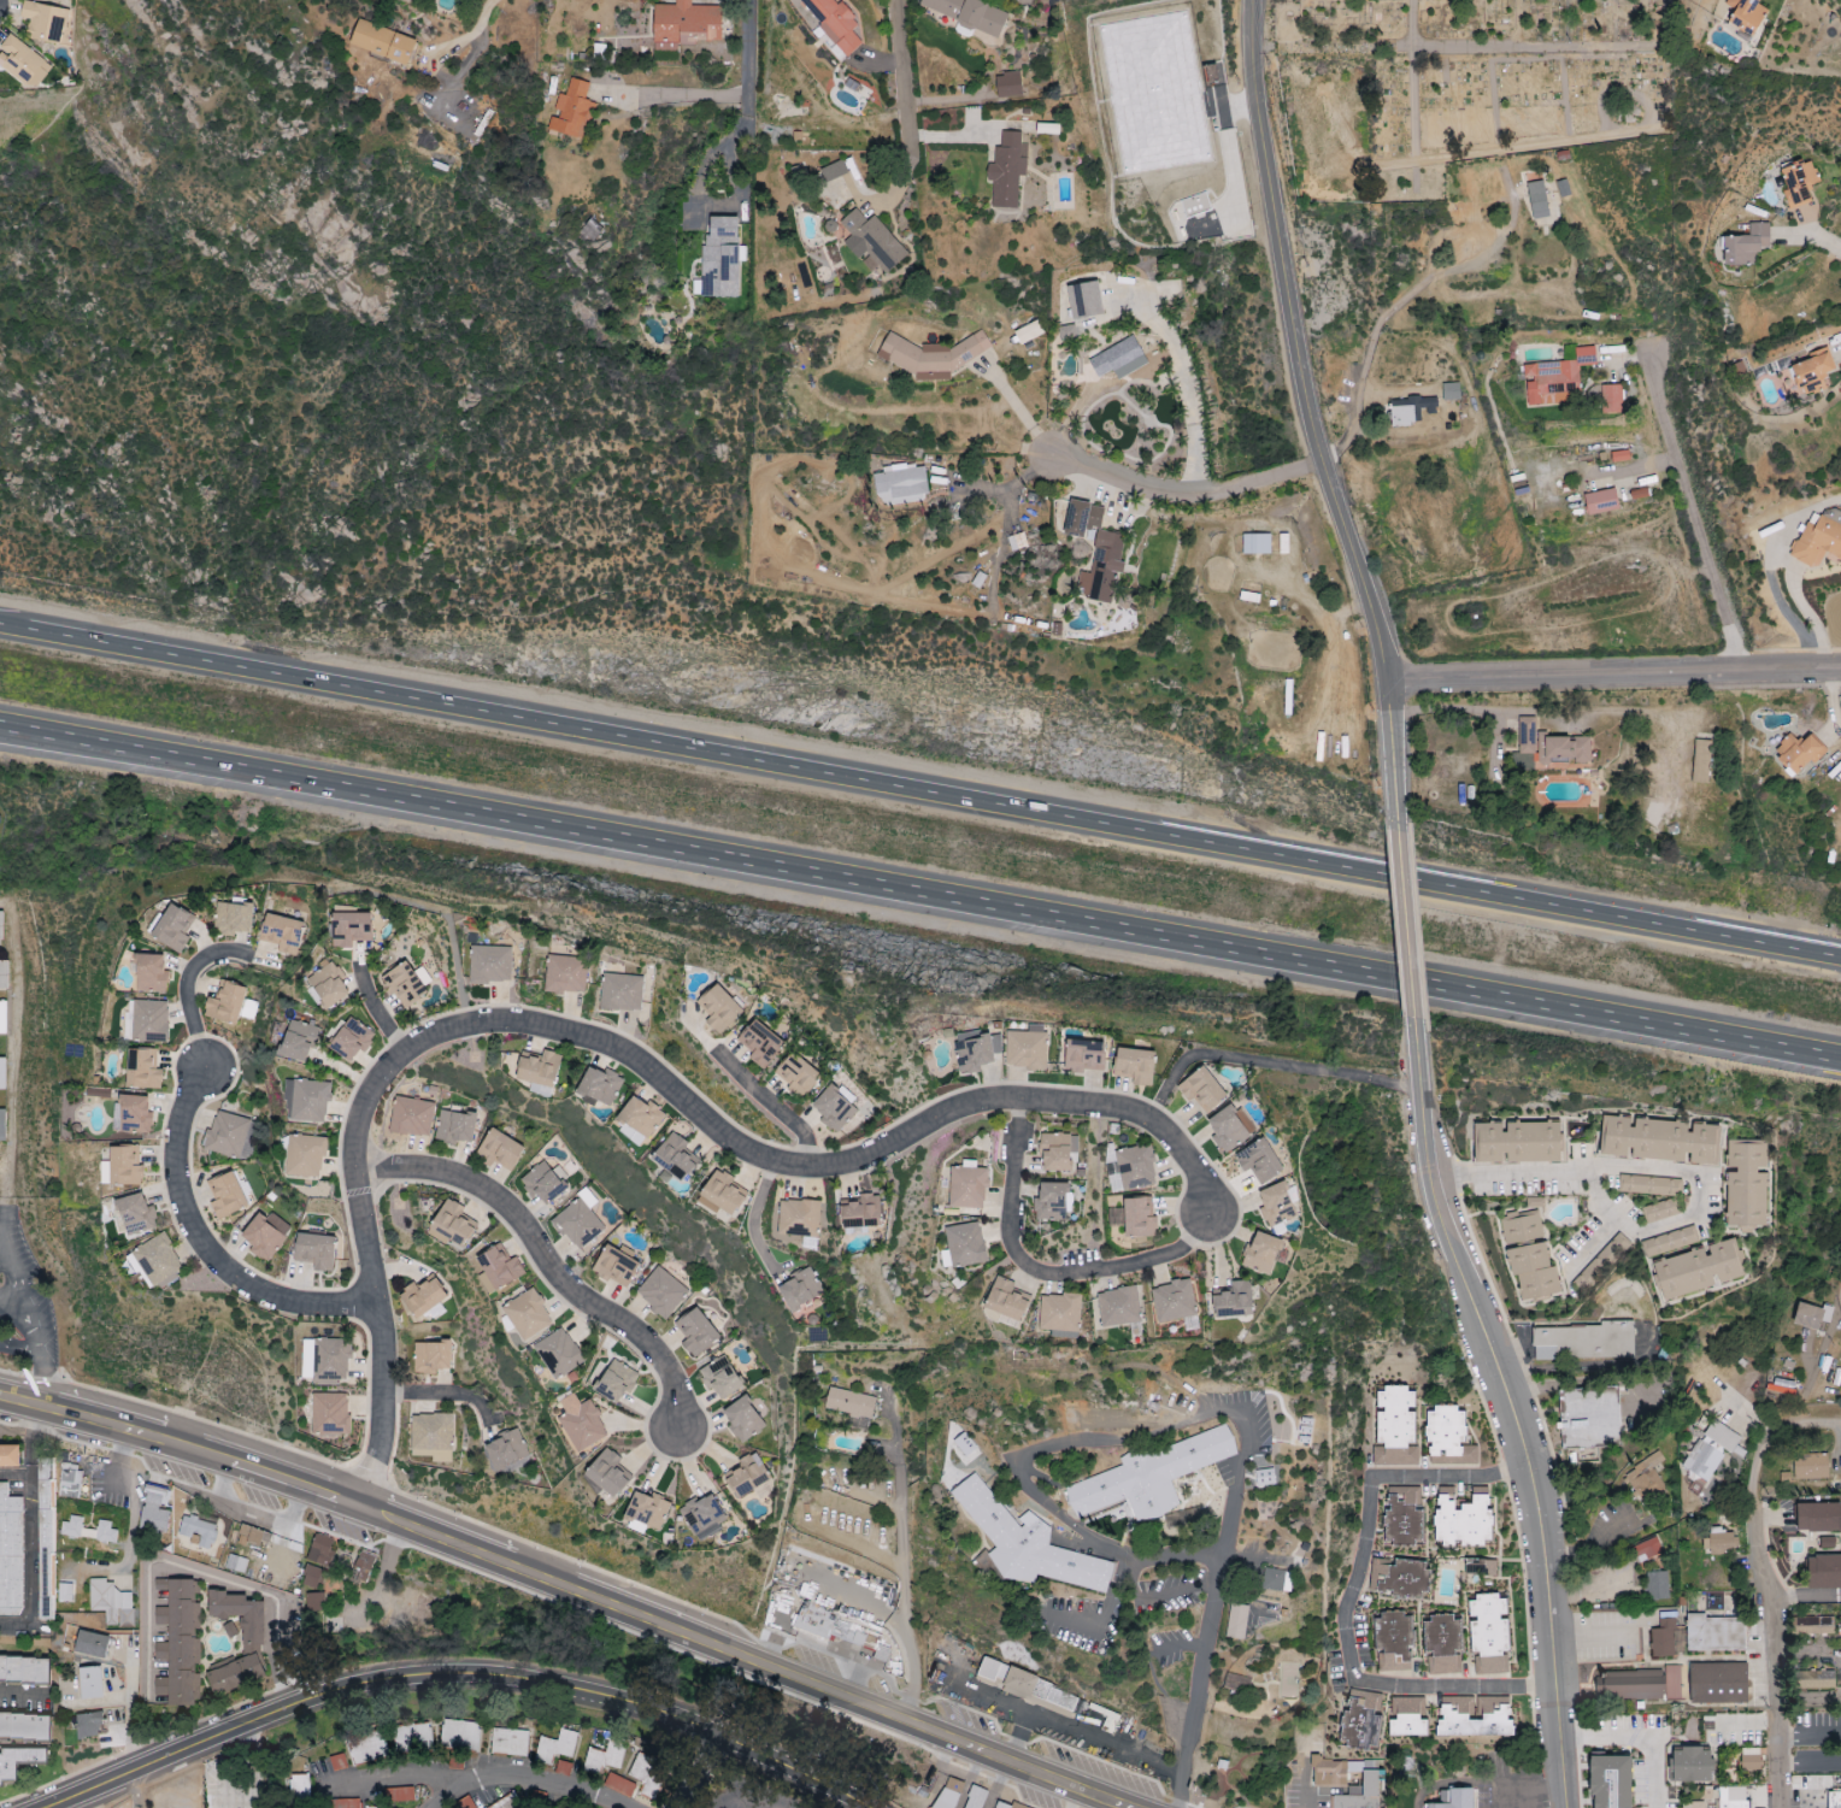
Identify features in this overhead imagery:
building: (971, 16)
building: (1746, 16)
building: (43, 22)
building: (687, 22)
building: (833, 22)
road: (469, 35)
building: (382, 41)
building: (18, 59)
road: (743, 67)
building: (1007, 84)
road: (670, 100)
road: (905, 106)
road: (876, 110)
building: (572, 111)
building: (1006, 170)
building: (834, 171)
building: (1799, 182)
building: (1537, 200)
road: (712, 213)
building: (1199, 218)
building: (592, 230)
road: (1810, 234)
building: (871, 241)
building: (1746, 245)
building: (720, 258)
building: (1083, 300)
road: (1392, 308)
building: (1028, 332)
building: (931, 355)
building: (1114, 358)
building: (1813, 371)
building: (1555, 378)
building: (1451, 391)
road: (1188, 396)
building: (1611, 399)
building: (1411, 411)
road: (1307, 426)
building: (900, 484)
road: (1181, 493)
building: (1601, 502)
road: (1690, 513)
building: (1082, 518)
building: (1818, 538)
building: (1255, 543)
building: (1102, 567)
building: (1248, 596)
road: (1611, 677)
road: (1512, 713)
building: (1527, 735)
building: (1566, 748)
building: (1798, 753)
building: (1700, 762)
road: (920, 794)
road: (920, 899)
building: (233, 918)
building: (0, 926)
building: (172, 927)
building: (349, 929)
building: (281, 934)
road: (1401, 938)
building: (489, 965)
building: (4, 974)
building: (151, 974)
building: (565, 974)
building: (402, 984)
road: (187, 985)
building: (620, 993)
building: (229, 1005)
building: (719, 1009)
road: (376, 1011)
building: (2, 1018)
building: (148, 1021)
building: (351, 1040)
building: (298, 1041)
building: (760, 1044)
road: (623, 1050)
building: (1025, 1050)
building: (976, 1052)
building: (1083, 1055)
road: (1269, 1061)
building: (1135, 1066)
building: (142, 1070)
building: (2, 1073)
building: (540, 1073)
building: (796, 1074)
building: (600, 1086)
building: (1202, 1090)
building: (306, 1101)
road: (772, 1107)
building: (835, 1107)
building: (131, 1114)
building: (411, 1117)
building: (640, 1120)
building: (2, 1125)
building: (454, 1127)
building: (1229, 1129)
building: (227, 1135)
building: (1659, 1141)
building: (1518, 1143)
building: (499, 1150)
building: (1059, 1153)
building: (304, 1156)
building: (676, 1158)
building: (1259, 1161)
building: (122, 1167)
building: (545, 1183)
building: (1747, 1184)
building: (1649, 1185)
building: (967, 1188)
building: (722, 1195)
building: (225, 1196)
building: (1051, 1202)
building: (1535, 1203)
building: (1277, 1205)
street lamp: (1465, 1207)
building: (1659, 1212)
road: (751, 1213)
building: (136, 1214)
building: (861, 1215)
building: (799, 1219)
building: (1139, 1219)
building: (578, 1224)
building: (452, 1226)
road: (1629, 1226)
building: (1521, 1227)
building: (265, 1235)
building: (1670, 1242)
building: (965, 1245)
road: (210, 1247)
building: (314, 1252)
building: (1261, 1254)
road: (547, 1260)
building: (155, 1261)
building: (617, 1267)
building: (498, 1270)
road: (1040, 1270)
building: (1700, 1271)
building: (1534, 1273)
road: (10, 1279)
building: (800, 1290)
building: (661, 1294)
building: (423, 1297)
road: (10, 1301)
building: (1172, 1301)
building: (1234, 1301)
building: (1118, 1307)
building: (1059, 1313)
building: (528, 1315)
building: (1808, 1315)
building: (696, 1332)
road: (16, 1338)
building: (1583, 1342)
building: (558, 1353)
street lamp: (1460, 1355)
road: (35, 1356)
building: (430, 1356)
building: (719, 1377)
building: (614, 1379)
road: (440, 1397)
building: (849, 1402)
road: (18, 1404)
building: (330, 1413)
road: (1513, 1413)
building: (1590, 1417)
building: (743, 1419)
building: (581, 1423)
road: (893, 1425)
building: (1395, 1427)
building: (431, 1436)
building: (1448, 1437)
building: (1719, 1437)
road: (1084, 1438)
street lamp: (1551, 1439)
road: (30, 1441)
building: (506, 1449)
building: (10, 1455)
building: (1701, 1461)
building: (1811, 1466)
building: (608, 1472)
road: (16, 1474)
building: (746, 1476)
building: (1151, 1476)
building: (1643, 1477)
building: (69, 1482)
building: (154, 1509)
building: (45, 1510)
road: (131, 1512)
building: (645, 1512)
building: (702, 1517)
road: (399, 1518)
building: (1463, 1518)
building: (1818, 1519)
building: (87, 1530)
building: (198, 1531)
building: (253, 1536)
building: (1718, 1541)
building: (1027, 1544)
building: (1646, 1548)
building: (10, 1549)
road: (30, 1561)
road: (1457, 1561)
road: (165, 1562)
building: (235, 1563)
building: (363, 1566)
building: (1824, 1571)
building: (312, 1577)
building: (1398, 1577)
building: (1276, 1579)
road: (1761, 1582)
building: (1657, 1585)
street lamp: (1521, 1589)
road: (902, 1591)
building: (64, 1592)
road: (1802, 1596)
road: (1349, 1598)
building: (314, 1601)
building: (111, 1602)
building: (241, 1618)
building: (1249, 1618)
building: (1716, 1625)
building: (1812, 1625)
building: (836, 1629)
building: (1489, 1633)
building: (1663, 1639)
building: (1393, 1642)
building: (92, 1643)
building: (181, 1644)
building: (1442, 1645)
building: (24, 1668)
building: (992, 1669)
building: (235, 1673)
road: (455, 1673)
building: (1816, 1679)
building: (1287, 1680)
building: (89, 1682)
building: (1718, 1682)
building: (1639, 1684)
road: (837, 1690)
building: (1040, 1691)
road: (23, 1692)
street lamp: (253, 1692)
road: (1192, 1694)
building: (1455, 1707)
building: (1407, 1716)
building: (88, 1724)
building: (24, 1725)
road: (1072, 1726)
road: (1808, 1733)
building: (459, 1735)
road: (1021, 1735)
road: (1637, 1735)
building: (412, 1737)
building: (510, 1742)
building: (555, 1747)
building: (367, 1748)
building: (605, 1756)
street lamp: (722, 1759)
building: (1751, 1759)
building: (18, 1760)
building: (1692, 1763)
road: (1025, 1766)
road: (698, 1772)
building: (1333, 1772)
building: (646, 1775)
road: (401, 1780)
road: (531, 1780)
building: (1612, 1780)
road: (1306, 1783)
building: (618, 1784)
road: (1813, 1784)
building: (300, 1786)
road: (136, 1789)
road: (1530, 1789)
building: (949, 1794)
building: (1360, 1794)
building: (1735, 1797)
building: (1834, 1800)
building: (507, 1802)
building: (1008, 1804)
building: (1692, 1804)
building: (375, 1807)

